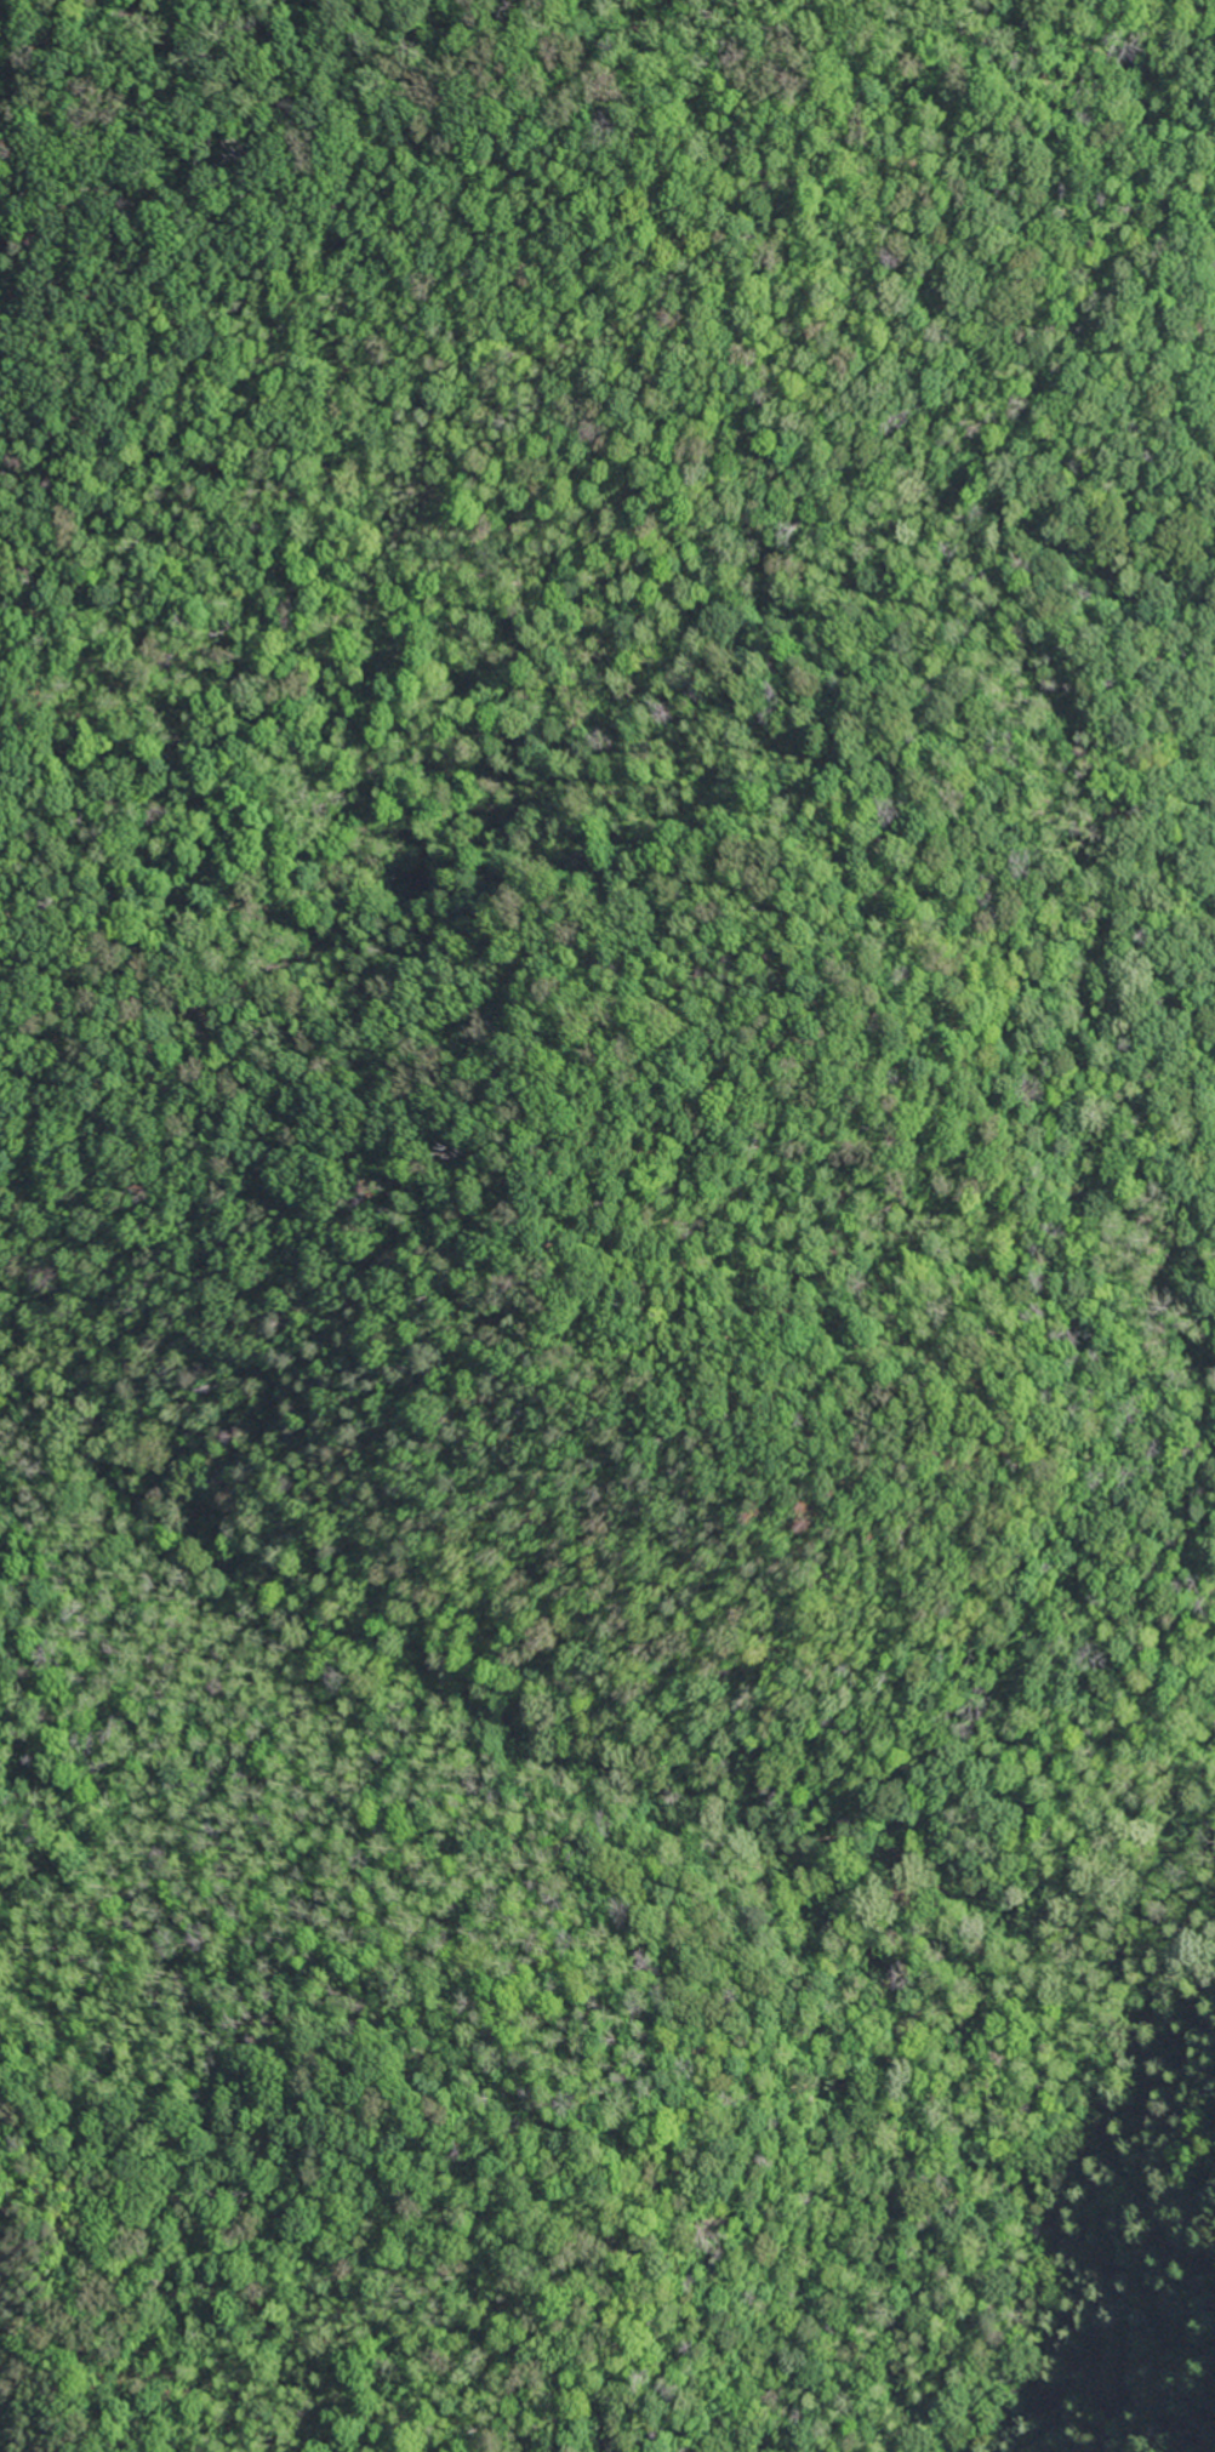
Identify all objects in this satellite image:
road: (1190, 2322)

